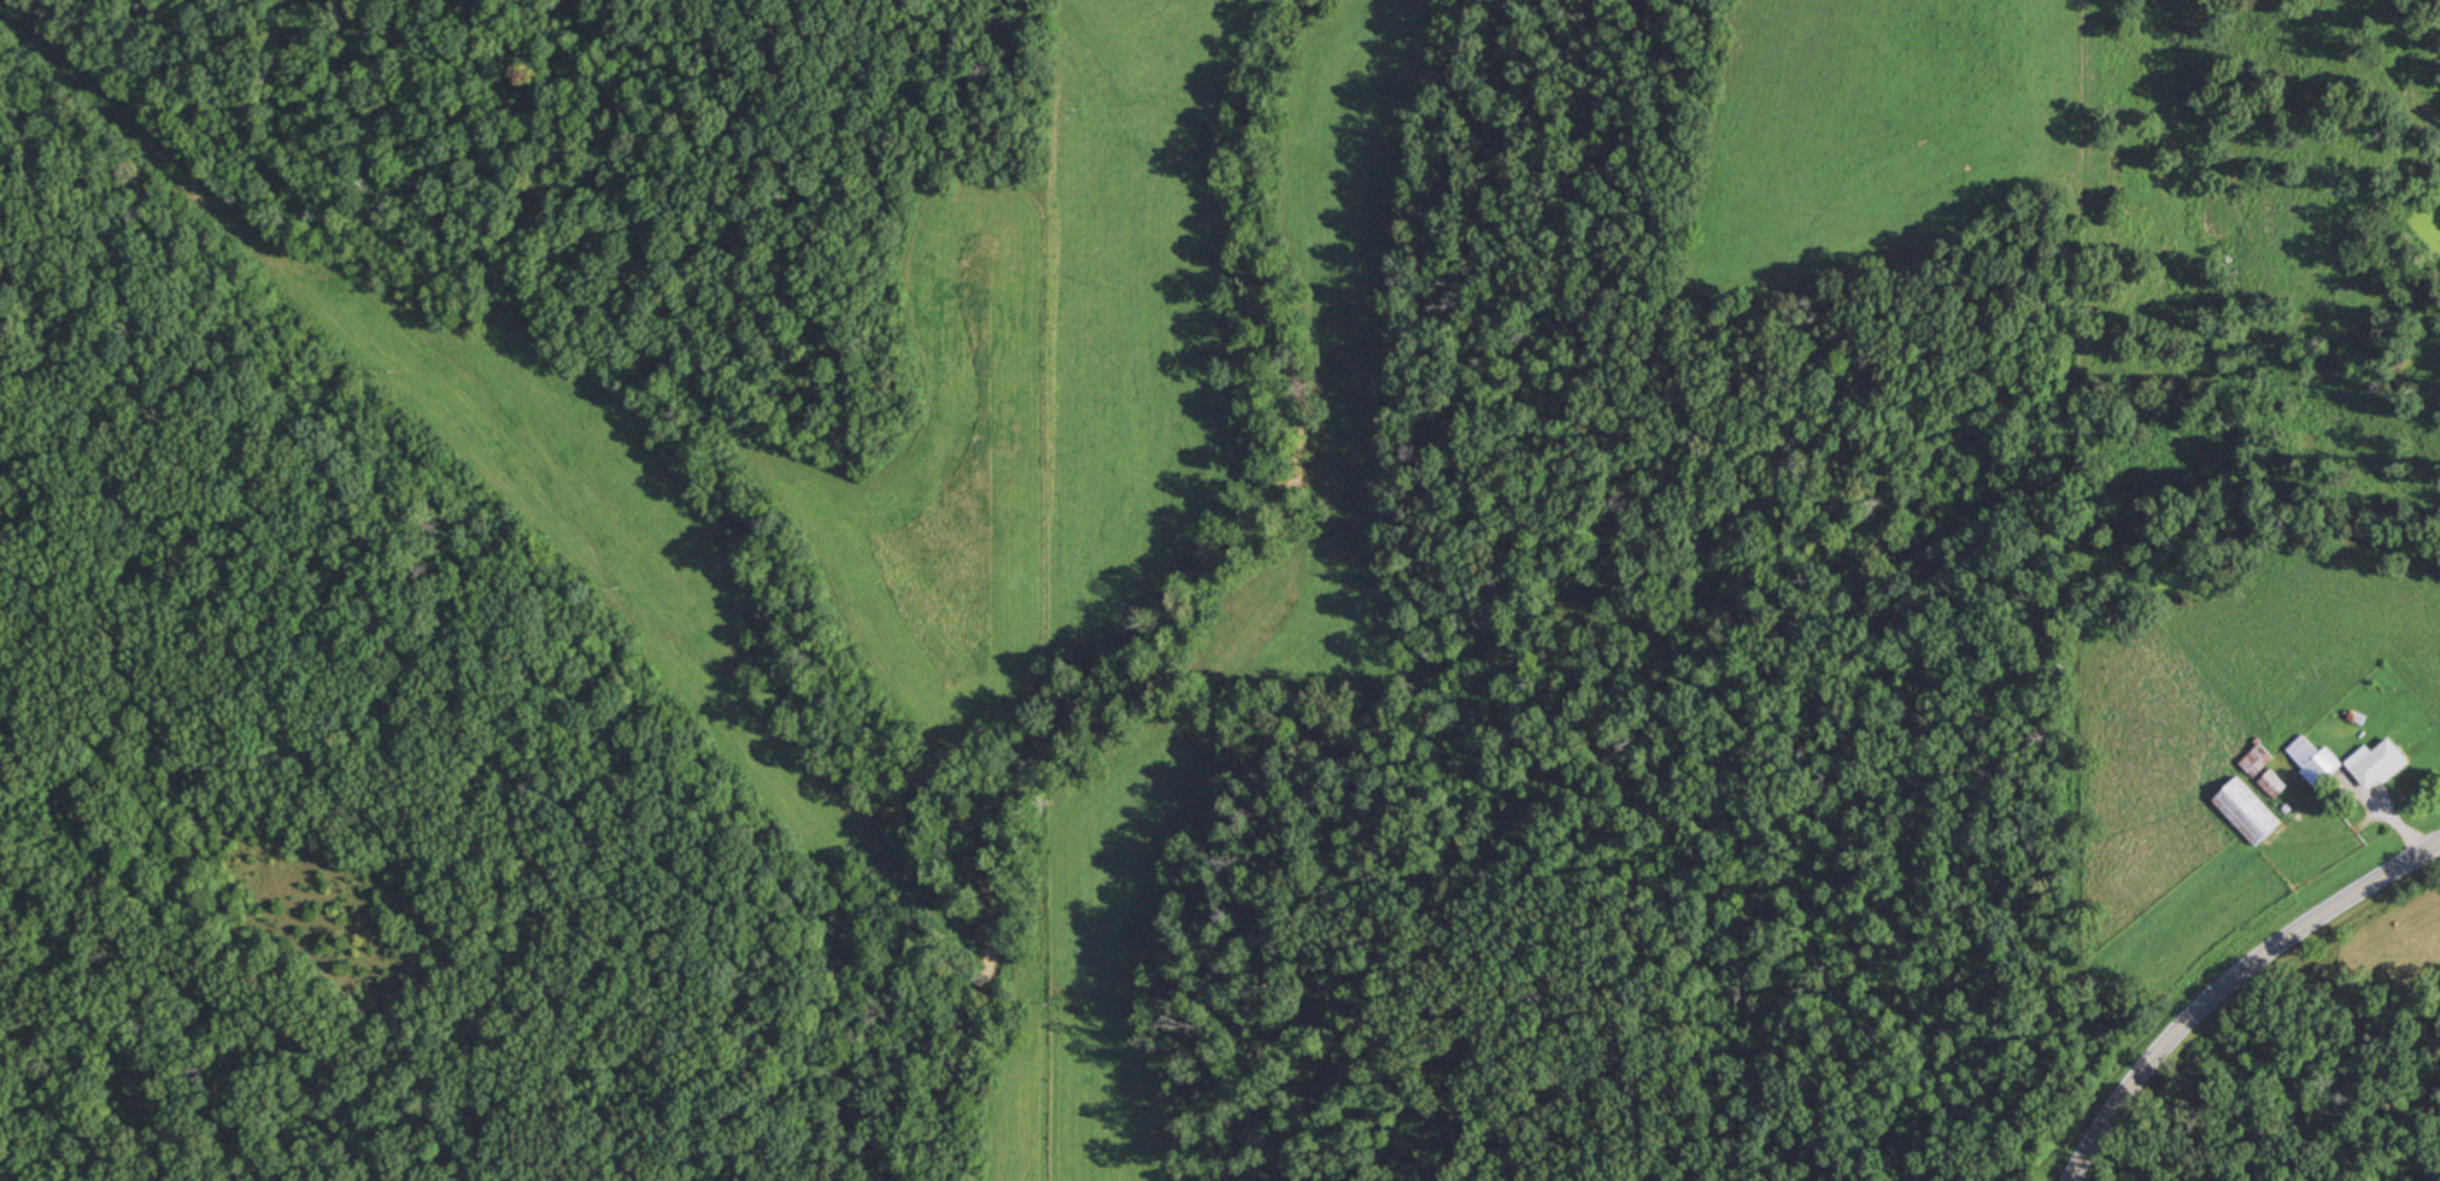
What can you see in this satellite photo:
building: (2312, 760)
building: (2376, 763)
building: (2271, 783)
building: (2246, 811)
road: (2260, 1011)

